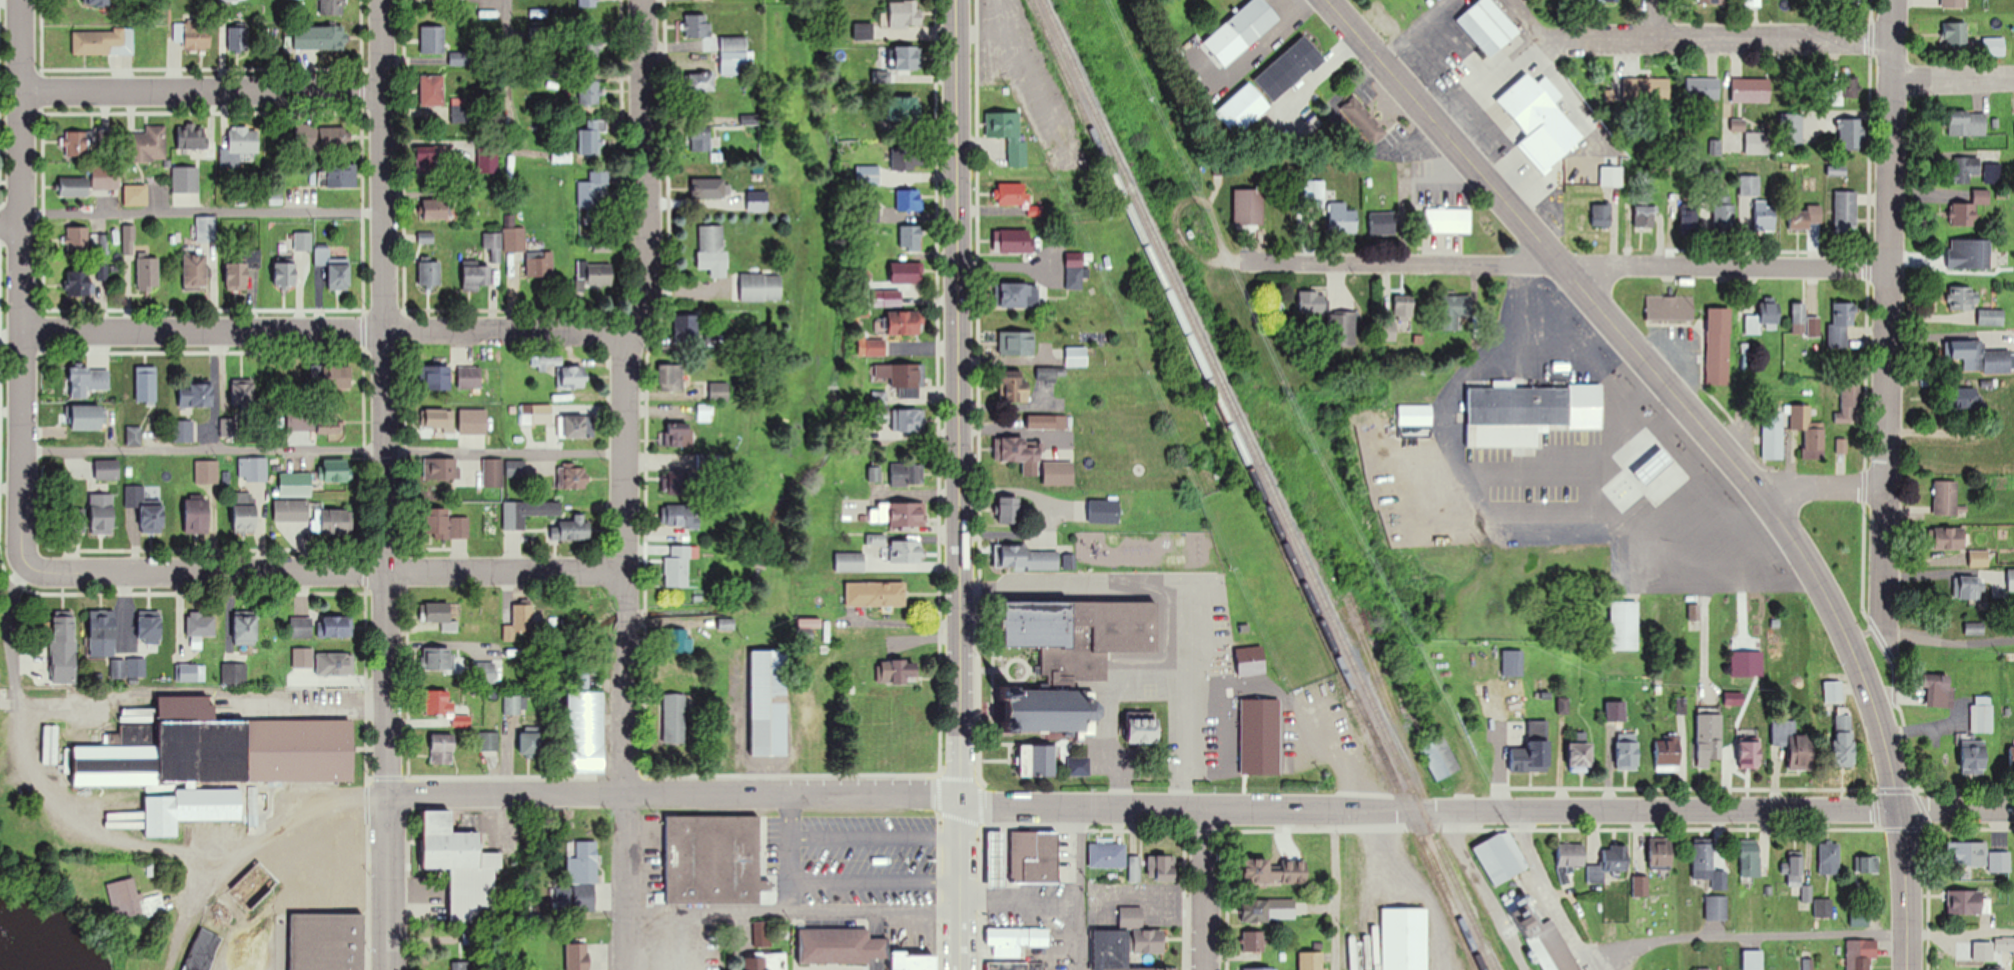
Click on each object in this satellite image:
building: (1713, 1)
building: (1850, 1)
building: (99, 2)
building: (587, 3)
building: (1753, 3)
building: (1954, 3)
building: (333, 7)
building: (905, 13)
road: (1655, 18)
building: (1253, 20)
building: (1494, 21)
building: (697, 25)
building: (194, 35)
road: (1727, 36)
building: (1956, 36)
building: (319, 37)
building: (238, 38)
building: (433, 39)
building: (103, 41)
building: (592, 43)
building: (1997, 46)
building: (734, 55)
building: (460, 57)
building: (907, 57)
building: (1289, 67)
road: (508, 76)
road: (1952, 79)
building: (701, 82)
building: (1648, 87)
building: (1703, 88)
road: (202, 89)
building: (433, 89)
building: (1751, 89)
building: (1846, 90)
building: (589, 91)
building: (1531, 100)
building: (906, 108)
building: (1243, 108)
building: (460, 109)
building: (1364, 119)
building: (1967, 123)
building: (1791, 128)
building: (1849, 133)
building: (1009, 134)
building: (309, 135)
building: (193, 136)
building: (590, 137)
building: (242, 141)
building: (701, 141)
building: (1758, 142)
building: (76, 144)
building: (148, 144)
building: (428, 155)
building: (561, 156)
building: (487, 158)
building: (904, 158)
building: (1966, 168)
building: (1992, 172)
building: (339, 175)
building: (868, 175)
building: (1611, 175)
building: (185, 186)
building: (74, 187)
building: (710, 188)
building: (594, 191)
building: (1313, 193)
building: (136, 195)
building: (1014, 195)
building: (908, 200)
building: (757, 201)
building: (1248, 207)
building: (435, 209)
building: (1968, 209)
building: (1846, 212)
road: (202, 213)
building: (1601, 213)
building: (1766, 215)
building: (1644, 217)
building: (1341, 218)
building: (1724, 218)
building: (1807, 218)
building: (1448, 220)
building: (1691, 220)
building: (1382, 223)
road: (9, 226)
building: (206, 229)
building: (911, 238)
building: (78, 239)
building: (711, 240)
building: (1015, 240)
building: (303, 241)
building: (514, 244)
building: (1970, 254)
building: (540, 264)
road: (1564, 264)
building: (334, 269)
building: (1075, 270)
building: (195, 271)
building: (286, 272)
building: (148, 273)
building: (906, 273)
building: (430, 274)
building: (595, 275)
building: (237, 276)
building: (477, 277)
road: (18, 281)
building: (79, 283)
building: (761, 287)
building: (1017, 295)
building: (893, 297)
building: (1963, 298)
building: (1311, 302)
road: (1887, 306)
building: (1670, 307)
building: (1453, 310)
building: (1770, 313)
building: (1991, 316)
building: (1400, 317)
building: (1800, 317)
building: (906, 322)
building: (1840, 325)
building: (686, 327)
building: (1341, 329)
road: (324, 330)
building: (1017, 343)
building: (876, 347)
building: (1969, 353)
building: (1076, 356)
building: (1718, 357)
building: (331, 377)
building: (435, 377)
building: (472, 377)
building: (572, 377)
building: (671, 377)
building: (903, 378)
building: (84, 381)
building: (146, 383)
building: (1015, 385)
building: (720, 391)
building: (244, 392)
building: (195, 395)
building: (1965, 398)
building: (1847, 405)
building: (536, 413)
building: (1529, 414)
building: (1416, 415)
building: (88, 417)
building: (439, 420)
building: (473, 420)
building: (911, 420)
building: (1043, 421)
building: (578, 426)
building: (182, 430)
building: (330, 430)
building: (1809, 432)
building: (681, 434)
building: (1773, 435)
road: (1712, 438)
building: (1016, 450)
road: (322, 451)
building: (252, 468)
building: (440, 468)
building: (107, 469)
building: (206, 471)
building: (336, 471)
building: (493, 472)
building: (529, 472)
building: (907, 473)
building: (1058, 477)
building: (573, 478)
road: (623, 482)
building: (678, 482)
building: (295, 483)
road: (1815, 483)
road: (957, 484)
railway: (1271, 484)
road: (387, 485)
railway: (1257, 485)
building: (1947, 499)
building: (145, 509)
building: (291, 510)
building: (1010, 510)
building: (1104, 510)
building: (244, 512)
building: (528, 512)
building: (102, 514)
building: (196, 514)
building: (899, 514)
building: (682, 515)
building: (336, 521)
building: (445, 525)
building: (572, 528)
building: (1950, 538)
building: (906, 552)
building: (1027, 557)
building: (1979, 558)
building: (850, 562)
building: (679, 566)
road: (321, 567)
building: (2011, 580)
building: (1966, 588)
building: (875, 594)
building: (441, 615)
building: (726, 624)
building: (809, 624)
building: (200, 625)
building: (520, 625)
building: (301, 626)
building: (1625, 626)
building: (150, 627)
building: (337, 627)
building: (1975, 628)
building: (245, 630)
building: (102, 634)
building: (1079, 635)
road: (1946, 640)
building: (678, 641)
building: (64, 649)
building: (436, 659)
building: (1251, 661)
building: (1512, 663)
building: (335, 664)
building: (128, 668)
building: (484, 671)
building: (190, 672)
building: (898, 672)
building: (233, 674)
building: (583, 680)
building: (1940, 689)
building: (1833, 691)
building: (3, 699)
building: (769, 703)
building: (512, 705)
building: (443, 707)
building: (1615, 711)
building: (1052, 712)
building: (1982, 714)
building: (675, 719)
building: (586, 732)
building: (1143, 732)
building: (1709, 736)
building: (1844, 740)
building: (488, 741)
building: (530, 743)
building: (1791, 745)
building: (443, 749)
building: (1532, 749)
building: (1627, 751)
building: (1667, 754)
building: (1750, 755)
building: (1581, 756)
building: (1440, 757)
building: (1974, 758)
building: (210, 760)
building: (1038, 762)
building: (1079, 766)
road: (1199, 809)
road: (875, 837)
road: (791, 851)
building: (1661, 854)
building: (1966, 855)
building: (1108, 856)
building: (1034, 857)
parking lot: (852, 858)
building: (1501, 858)
building: (714, 859)
building: (1829, 859)
building: (1750, 860)
building: (1570, 861)
building: (1703, 862)
building: (1999, 862)
building: (290, 863)
building: (1610, 864)
building: (461, 865)
building: (1869, 865)
building: (1165, 869)
building: (1134, 870)
building: (1275, 872)
building: (1795, 872)
building: (585, 875)
road: (875, 881)
building: (1641, 887)
road: (1544, 888)
road: (1082, 889)
road: (1204, 890)
road: (1336, 891)
road: (1483, 893)
building: (132, 900)
building: (1965, 903)
building: (1716, 908)
building: (1823, 908)
road: (791, 909)
building: (1269, 910)
building: (1130, 916)
building: (1860, 918)
road: (877, 923)
building: (763, 932)
road: (1800, 935)
building: (1543, 937)
building: (1016, 940)
building: (326, 941)
building: (1149, 941)
building: (1398, 941)
building: (1253, 943)
building: (2005, 943)
building: (840, 945)
building: (1117, 951)
building: (1861, 954)
building: (579, 956)
building: (1754, 959)
building: (766, 961)
building: (1312, 961)
building: (920, 962)
road: (1593, 962)
road: (877, 963)
building: (1016, 965)
building: (1258, 968)
building: (1996, 968)
parking lot: (841, 969)
building: (1705, 969)

